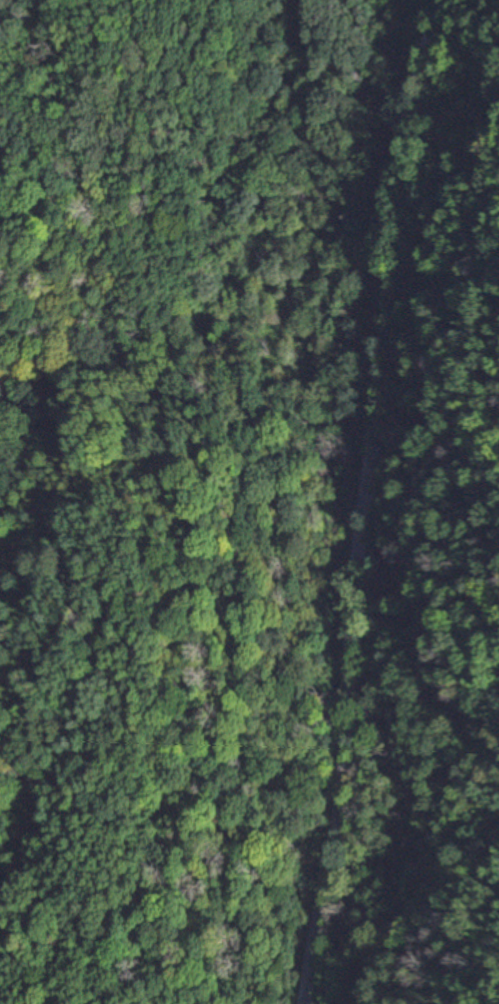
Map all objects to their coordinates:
road: (365, 500)

